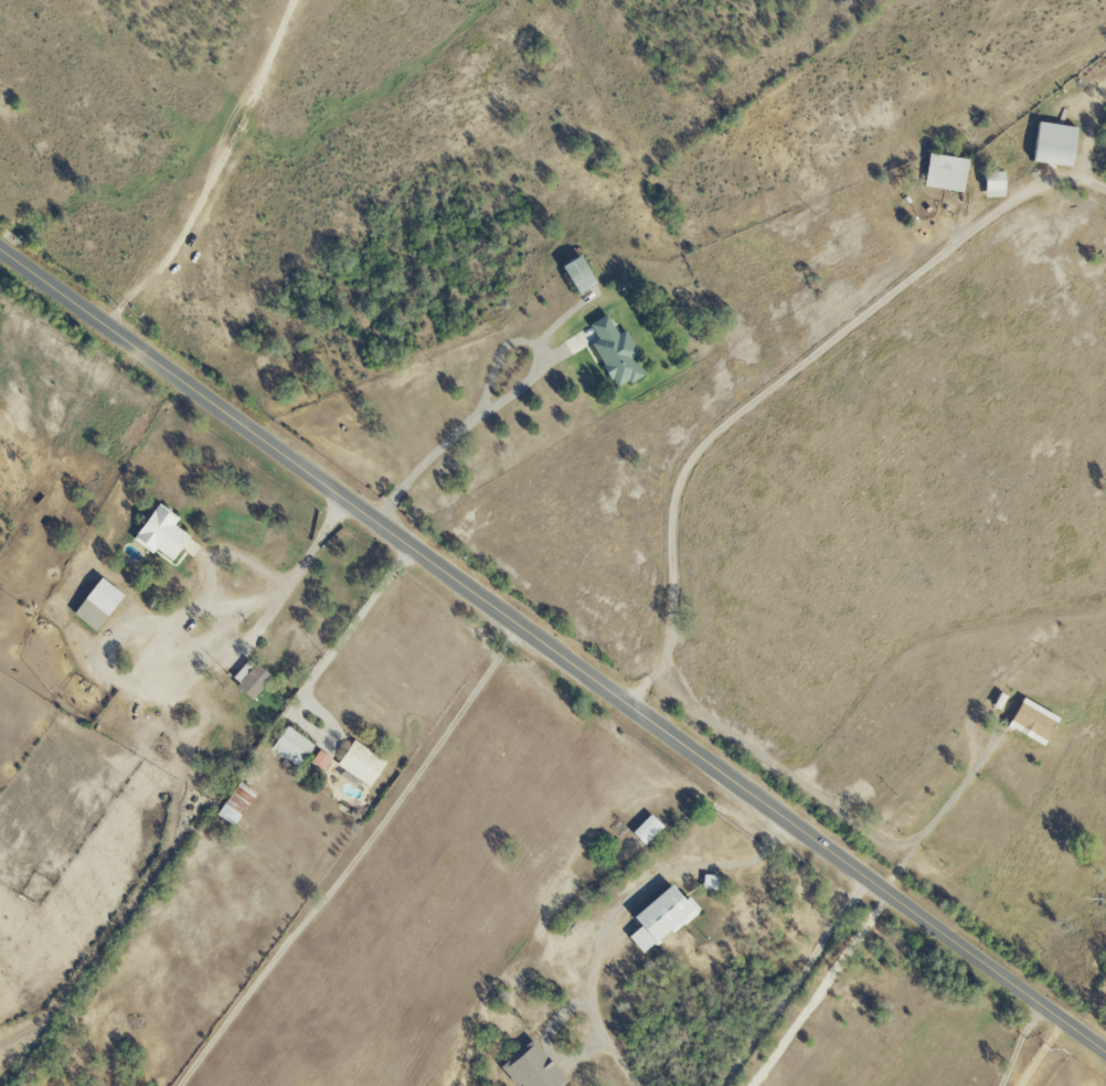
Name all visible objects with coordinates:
building: (1105, 138)
building: (1057, 145)
building: (947, 172)
building: (997, 184)
building: (582, 275)
building: (618, 352)
road: (764, 392)
road: (512, 397)
building: (163, 534)
road: (242, 601)
building: (100, 605)
road: (345, 637)
road: (552, 651)
building: (253, 679)
road: (141, 691)
building: (1035, 721)
building: (295, 746)
building: (322, 759)
building: (363, 764)
building: (237, 805)
road: (935, 818)
building: (650, 829)
road: (353, 861)
building: (712, 882)
road: (618, 912)
building: (663, 918)
road: (790, 980)
road: (822, 991)
road: (1018, 1044)
road: (1044, 1055)
building: (535, 1067)

